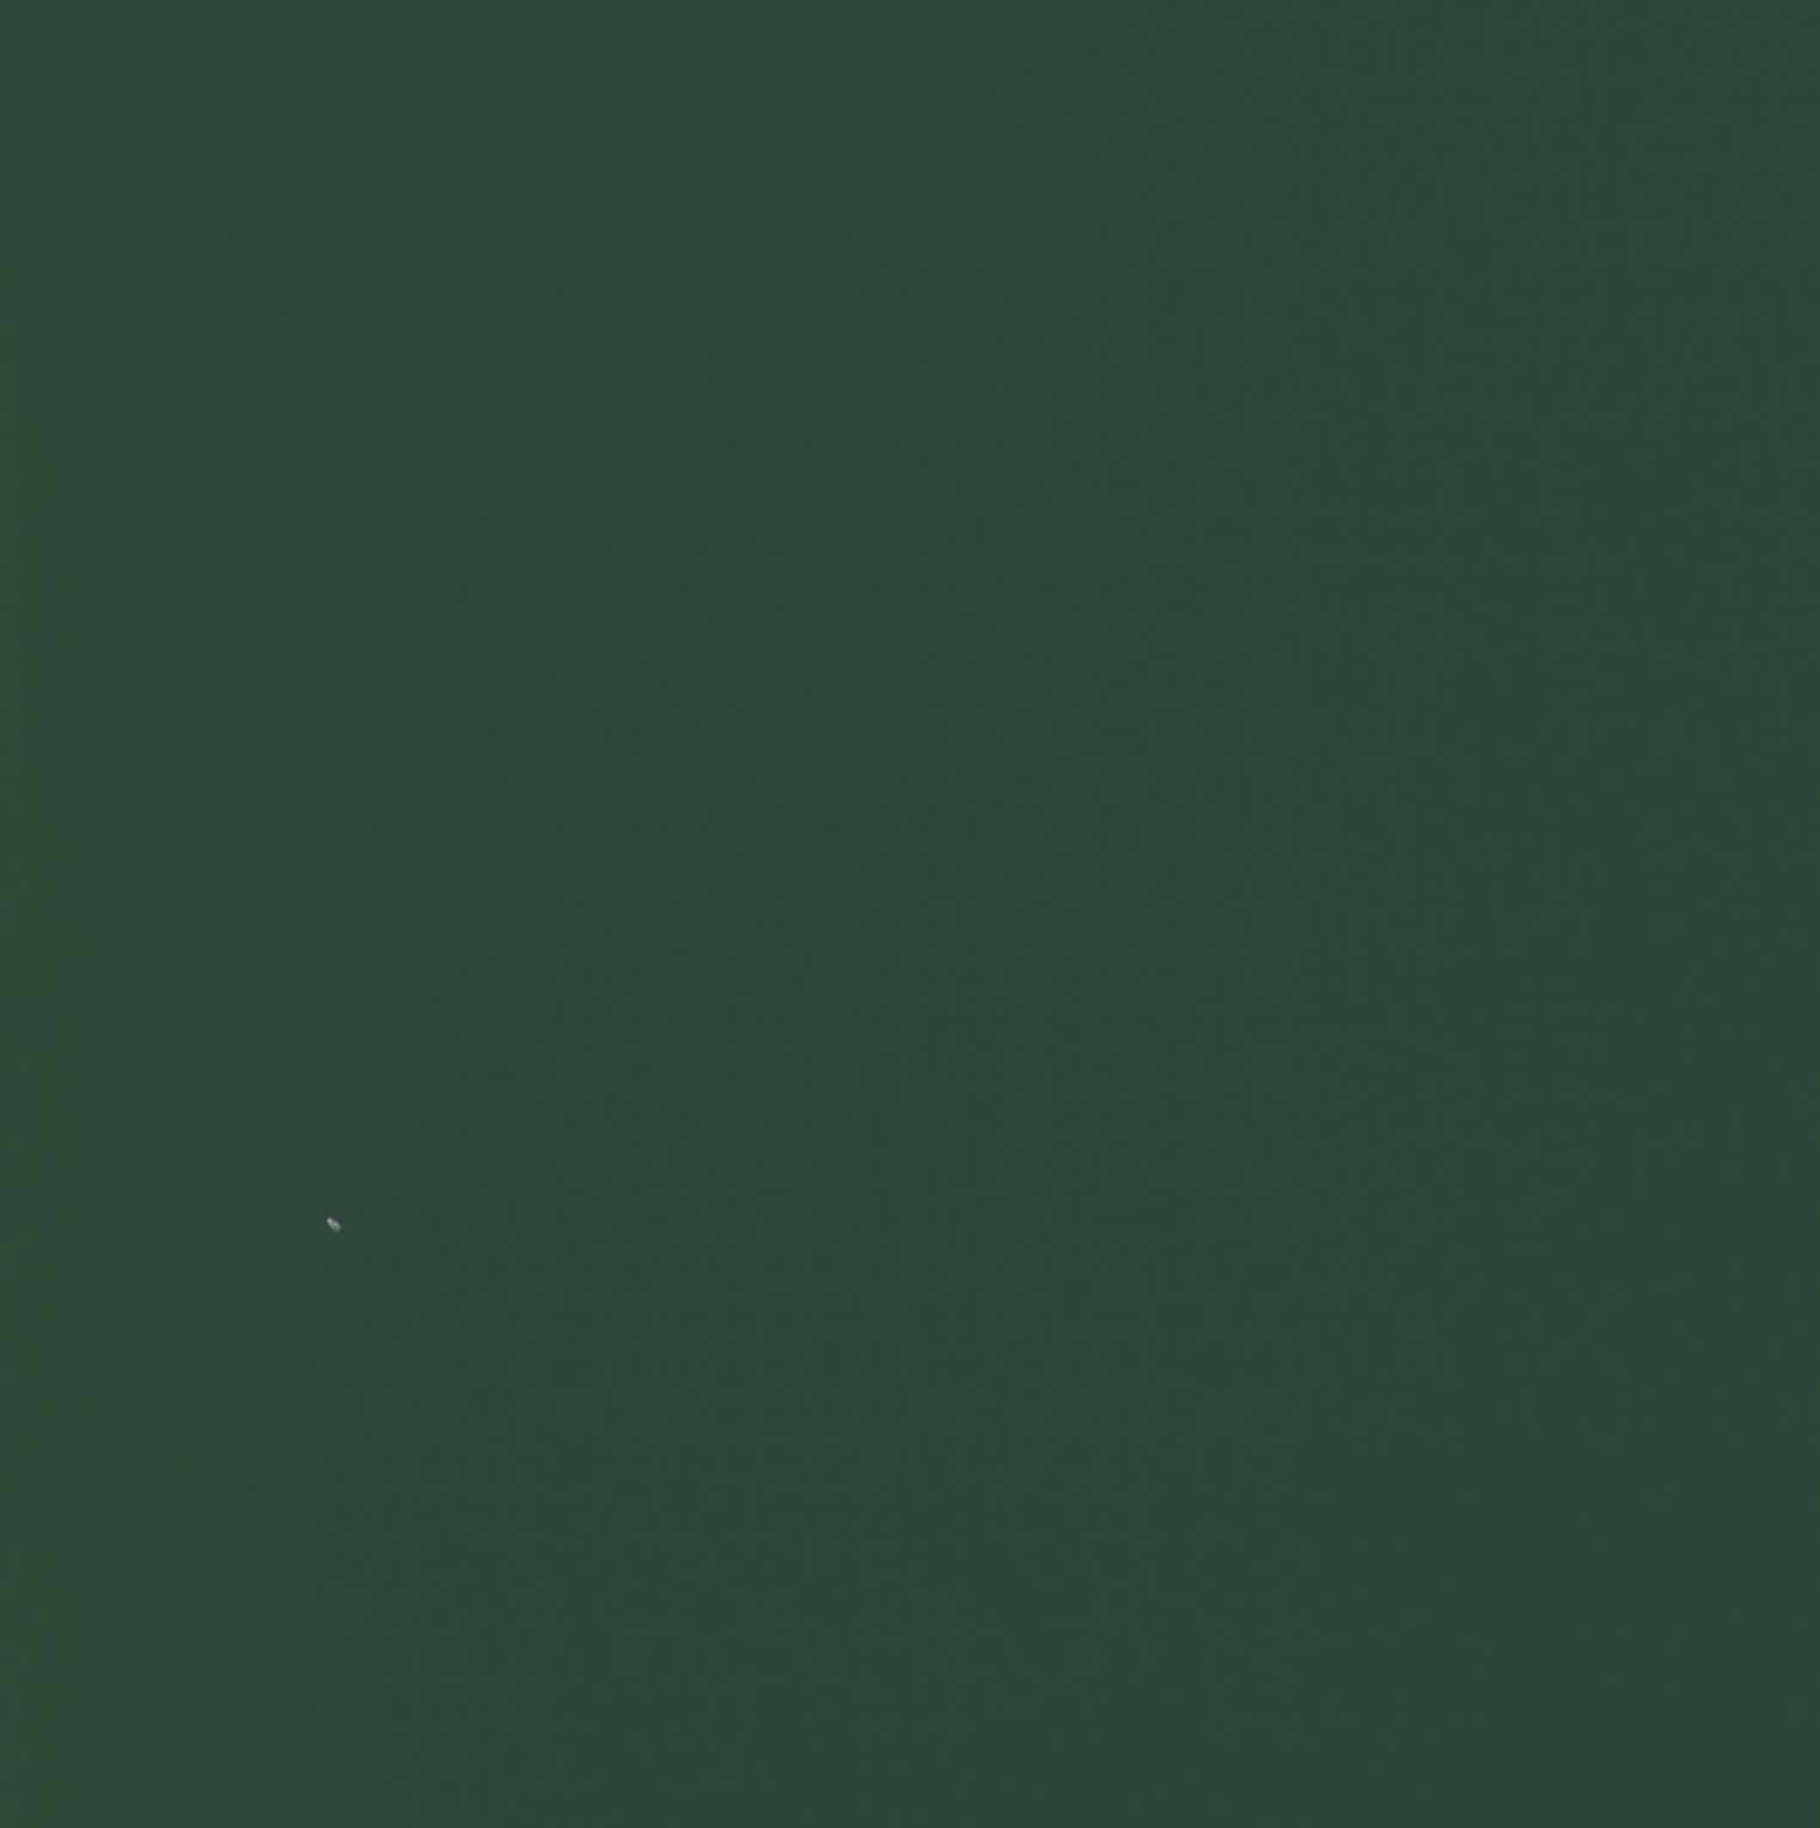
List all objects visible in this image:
river: (1563, 914)

